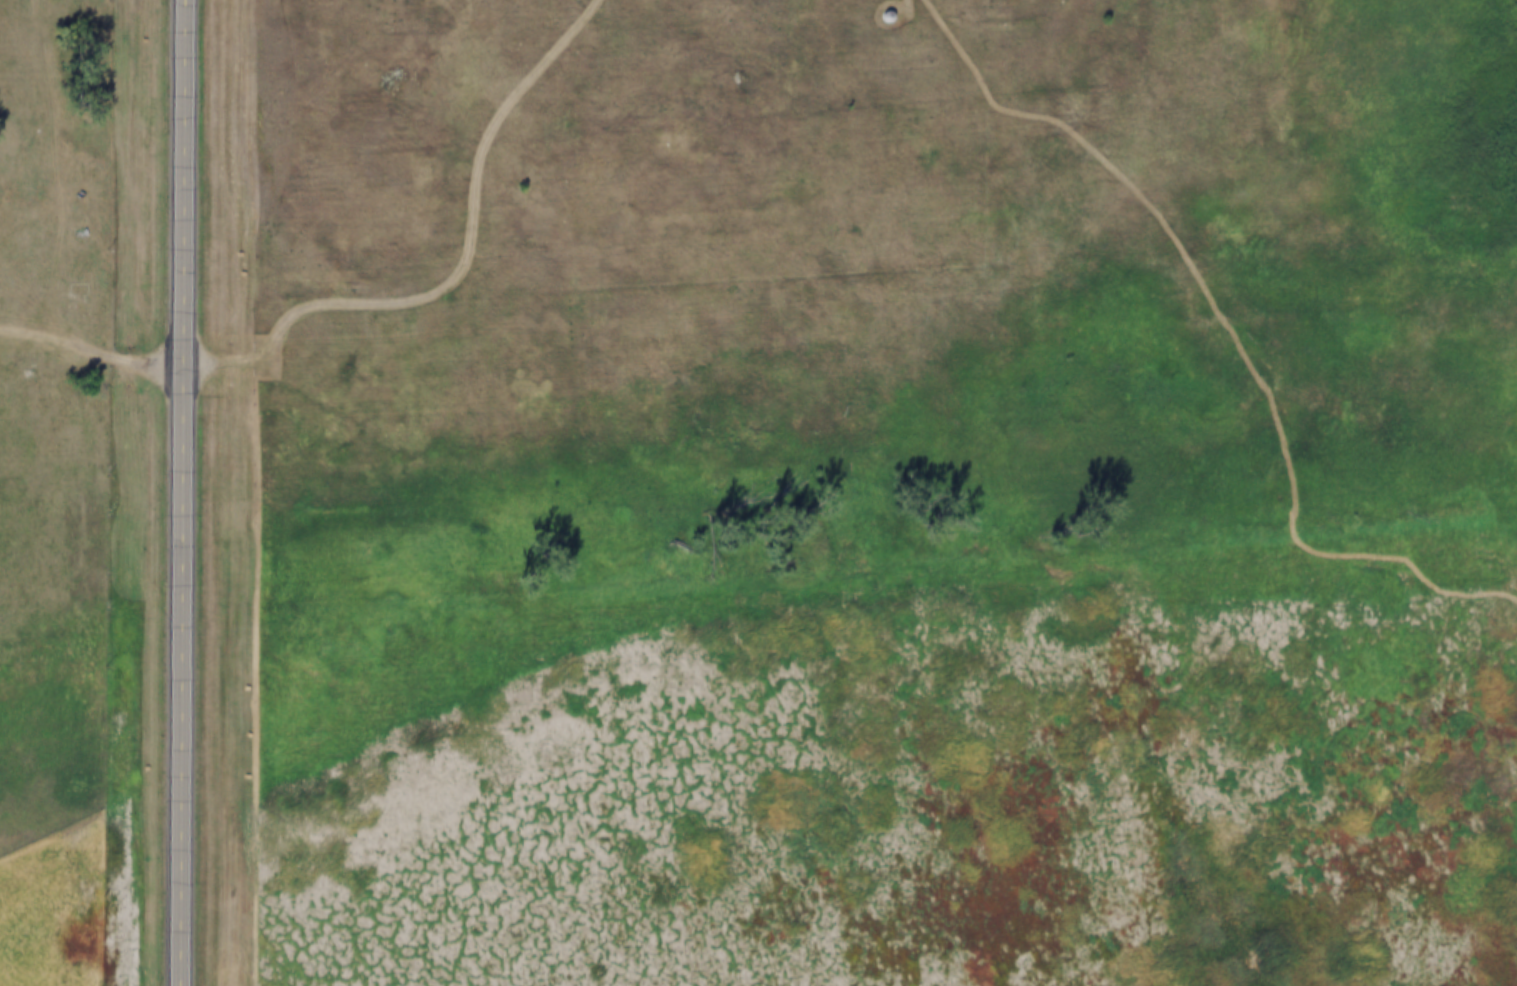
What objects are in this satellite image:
road: (184, 492)

